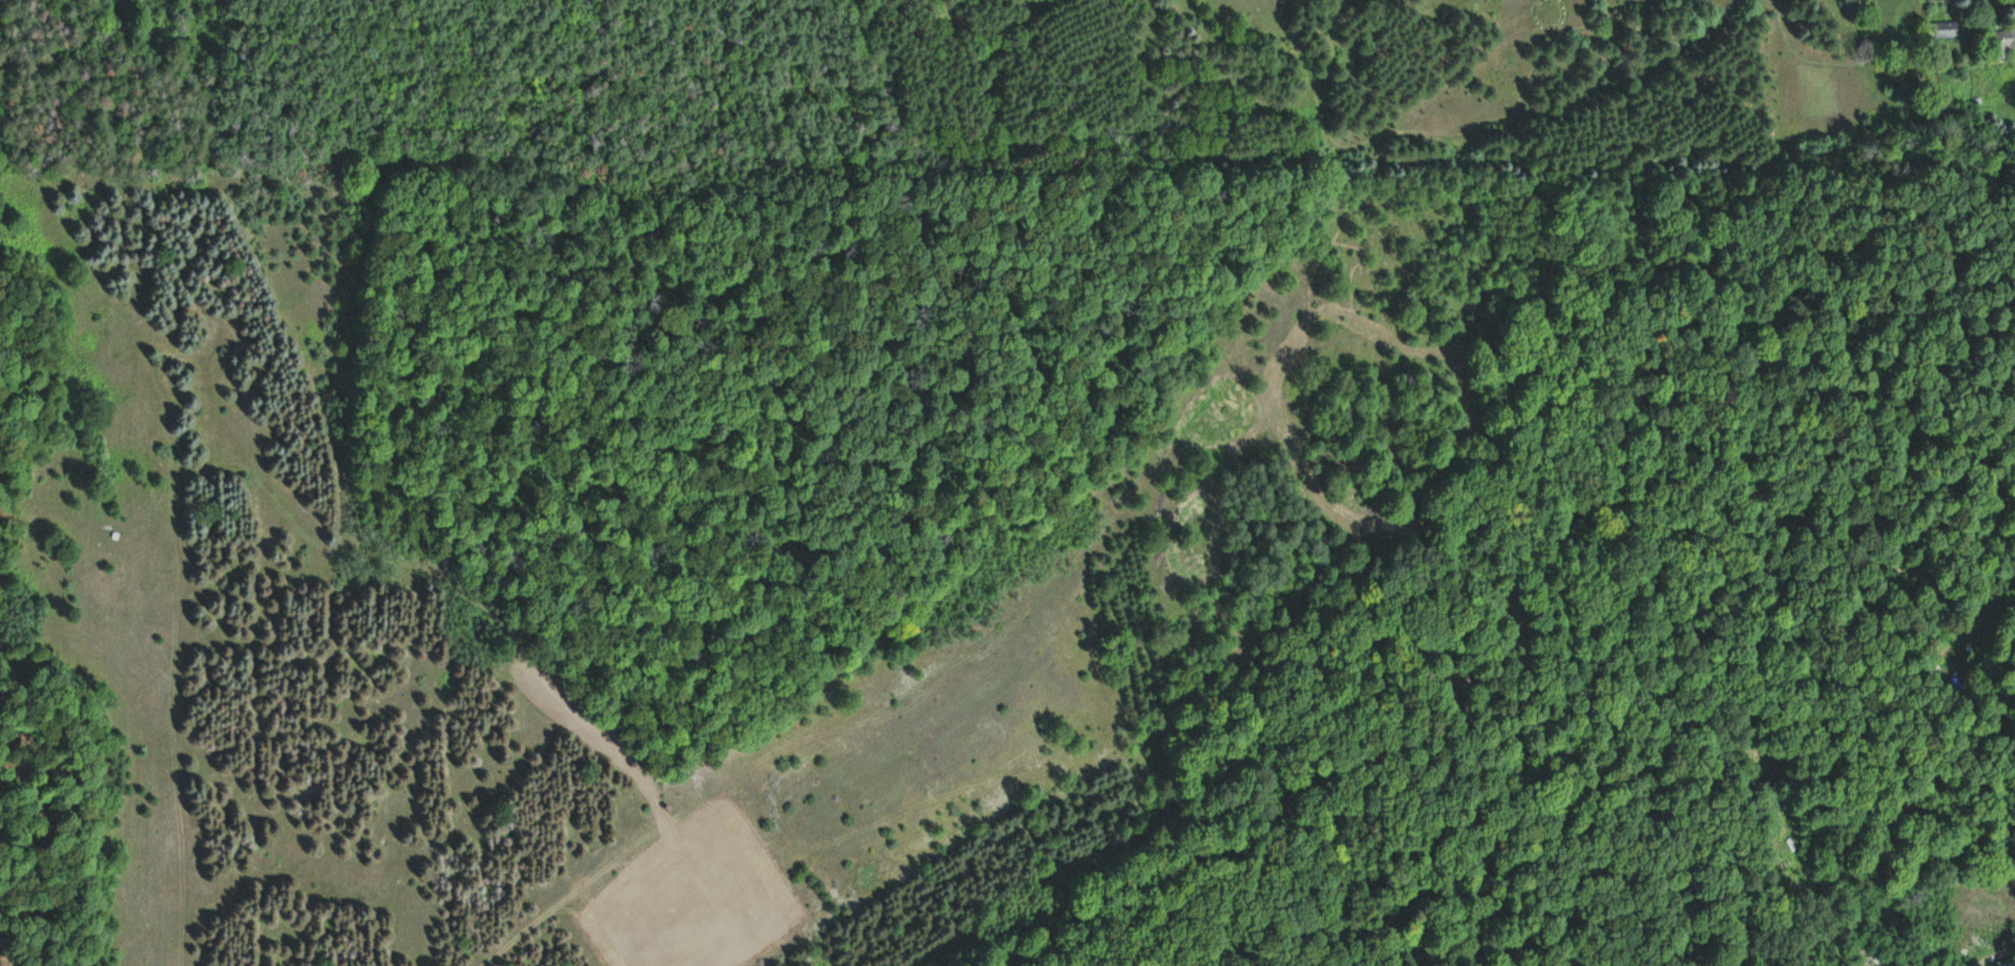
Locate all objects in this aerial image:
building: (1947, 29)
building: (2002, 42)

